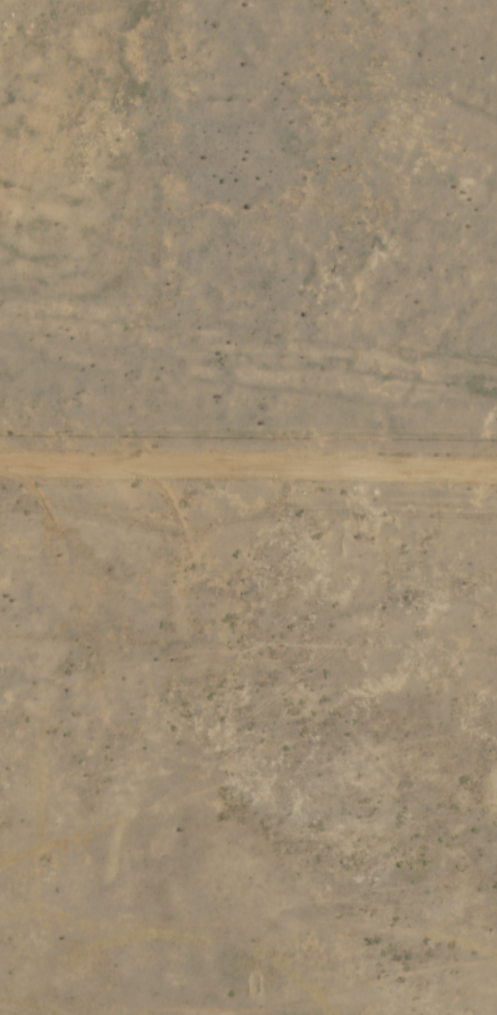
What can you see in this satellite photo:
road: (76, 84)
road: (247, 505)
road: (242, 745)

